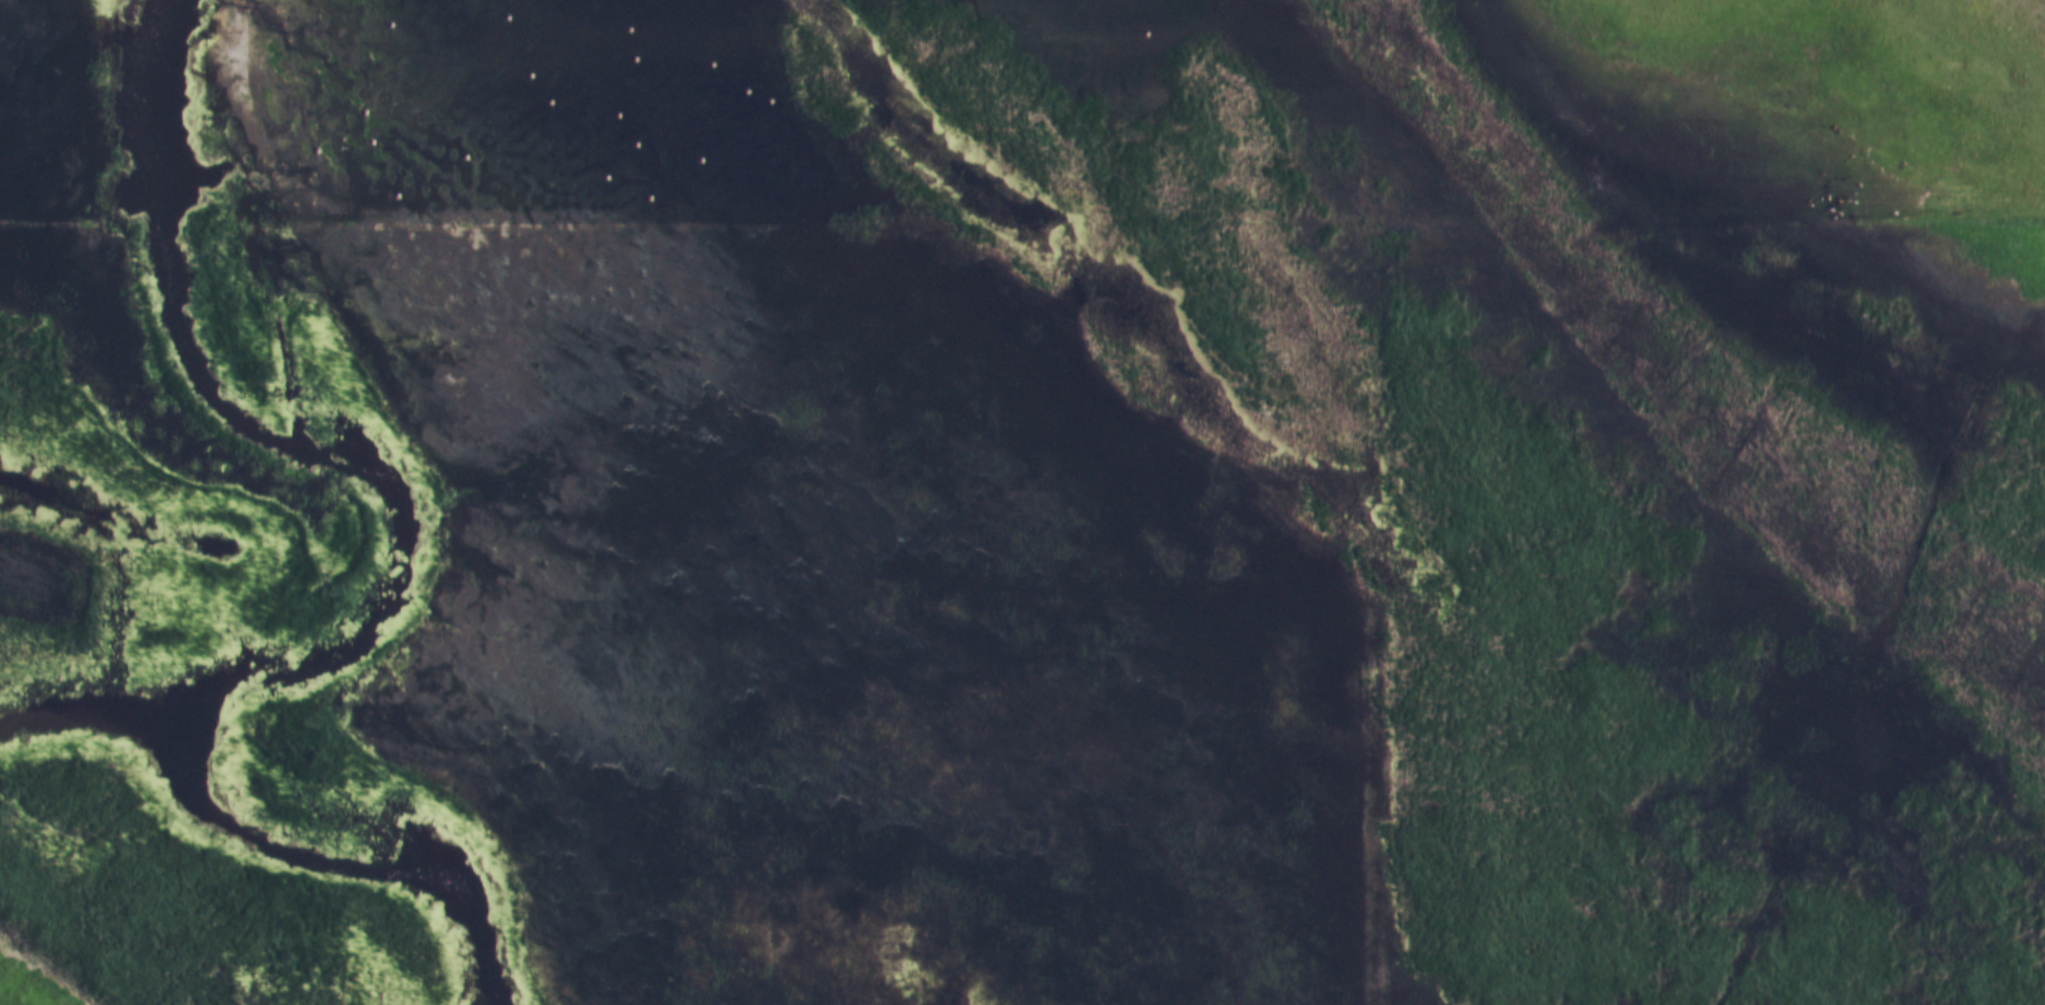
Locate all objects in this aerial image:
river: (383, 578)

